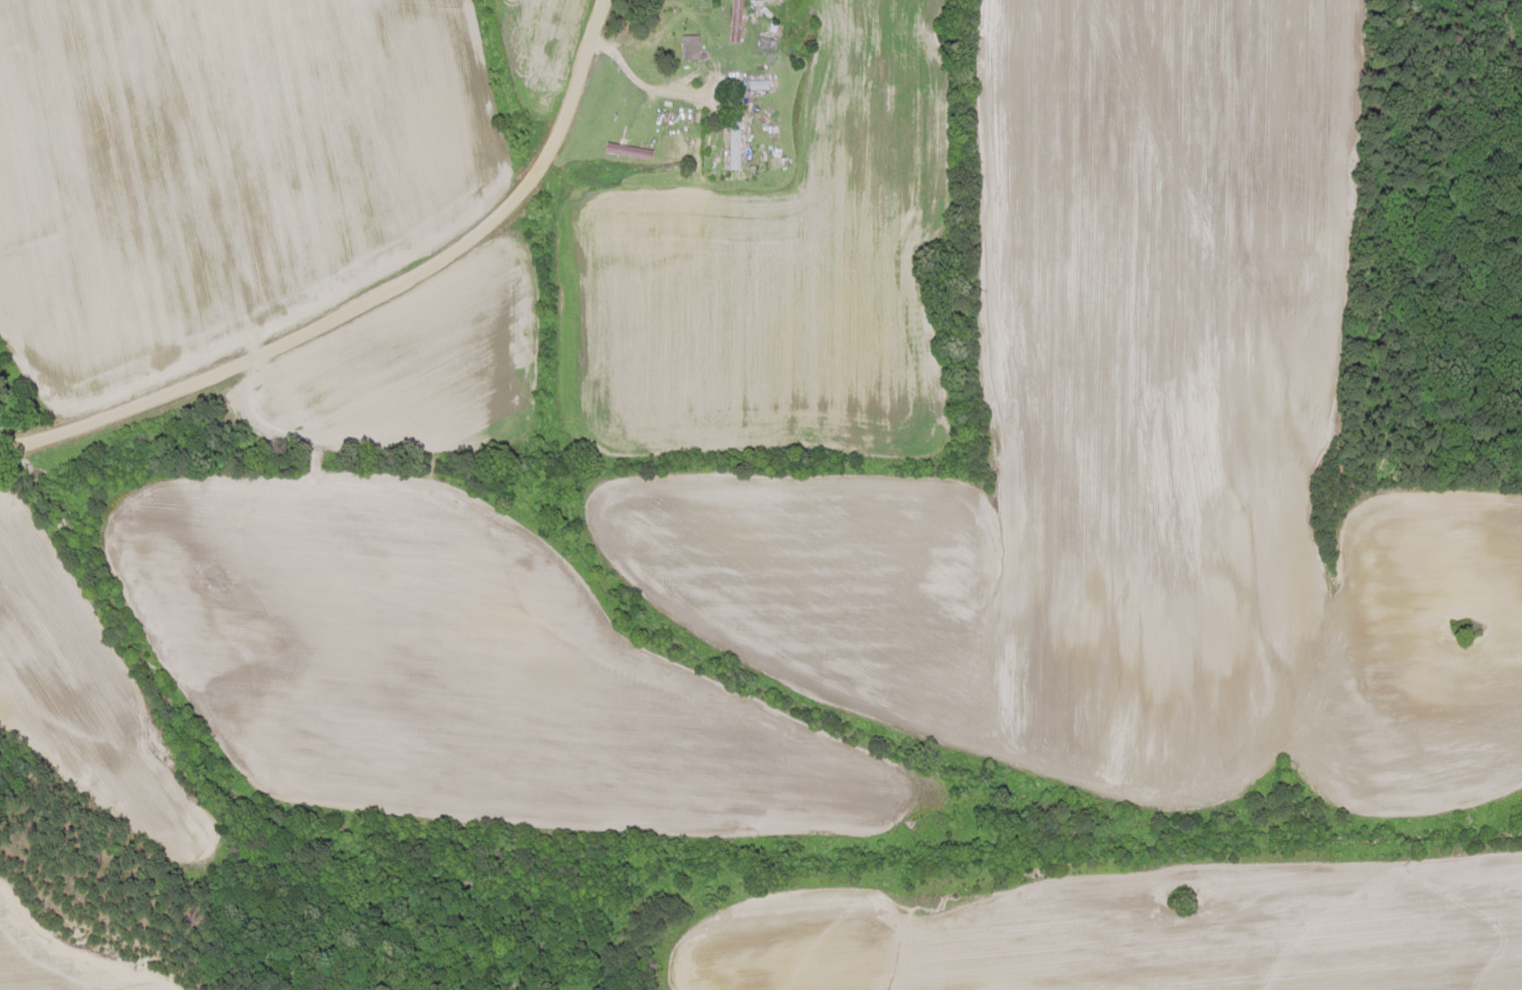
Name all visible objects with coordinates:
building: (734, 21)
building: (687, 48)
building: (731, 148)
building: (626, 151)
road: (367, 298)

